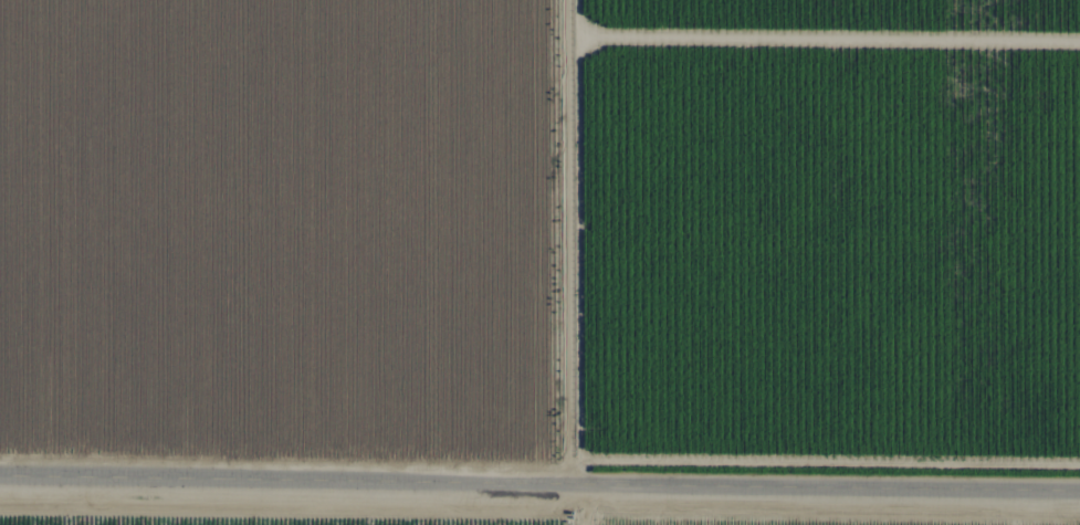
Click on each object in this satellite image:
road: (573, 21)
road: (574, 263)
road: (539, 482)

